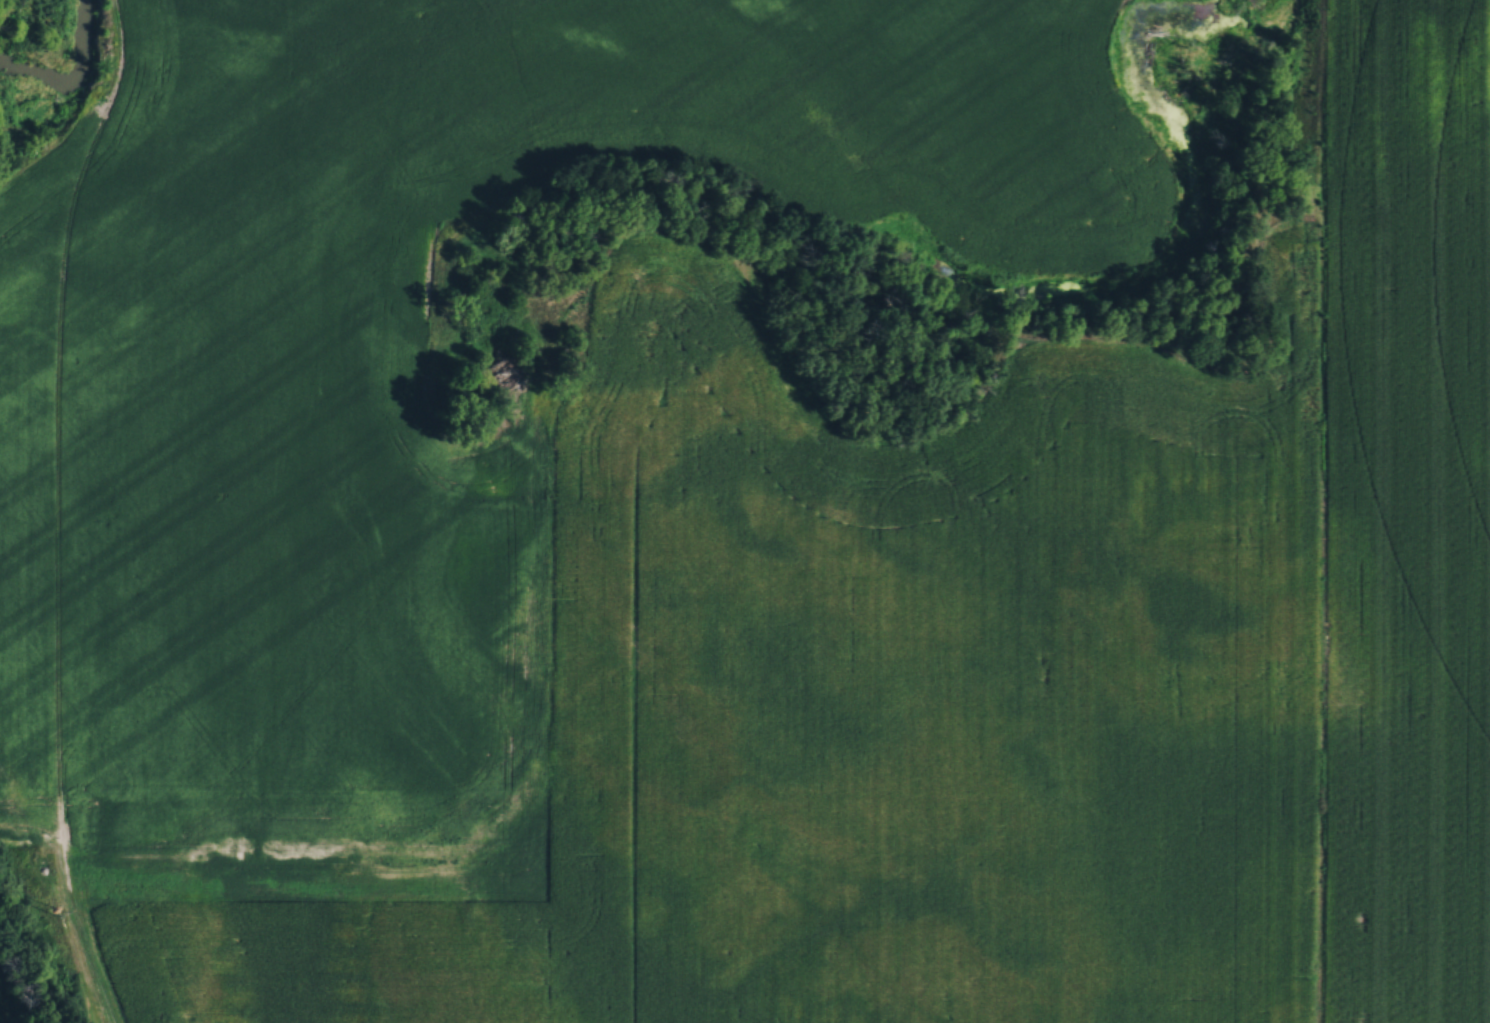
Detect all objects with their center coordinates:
power tower: (58, 911)

